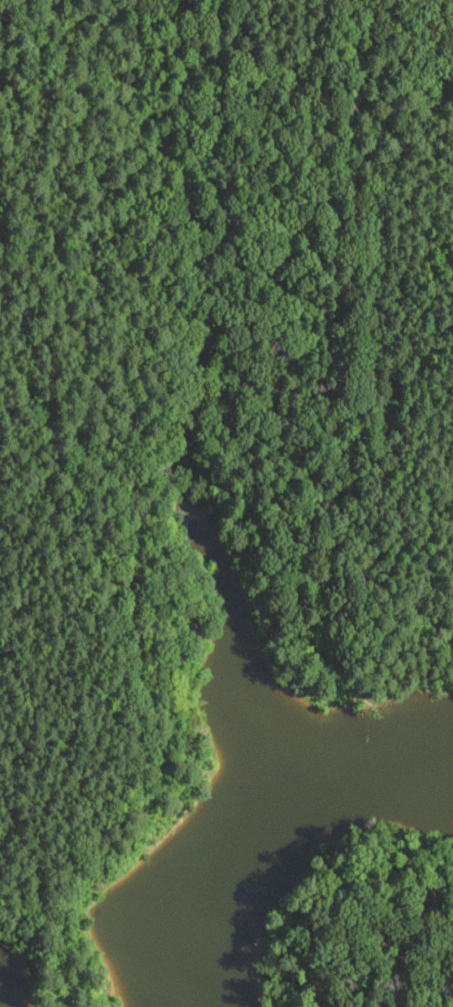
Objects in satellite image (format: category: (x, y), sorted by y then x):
park: (208, 408)

